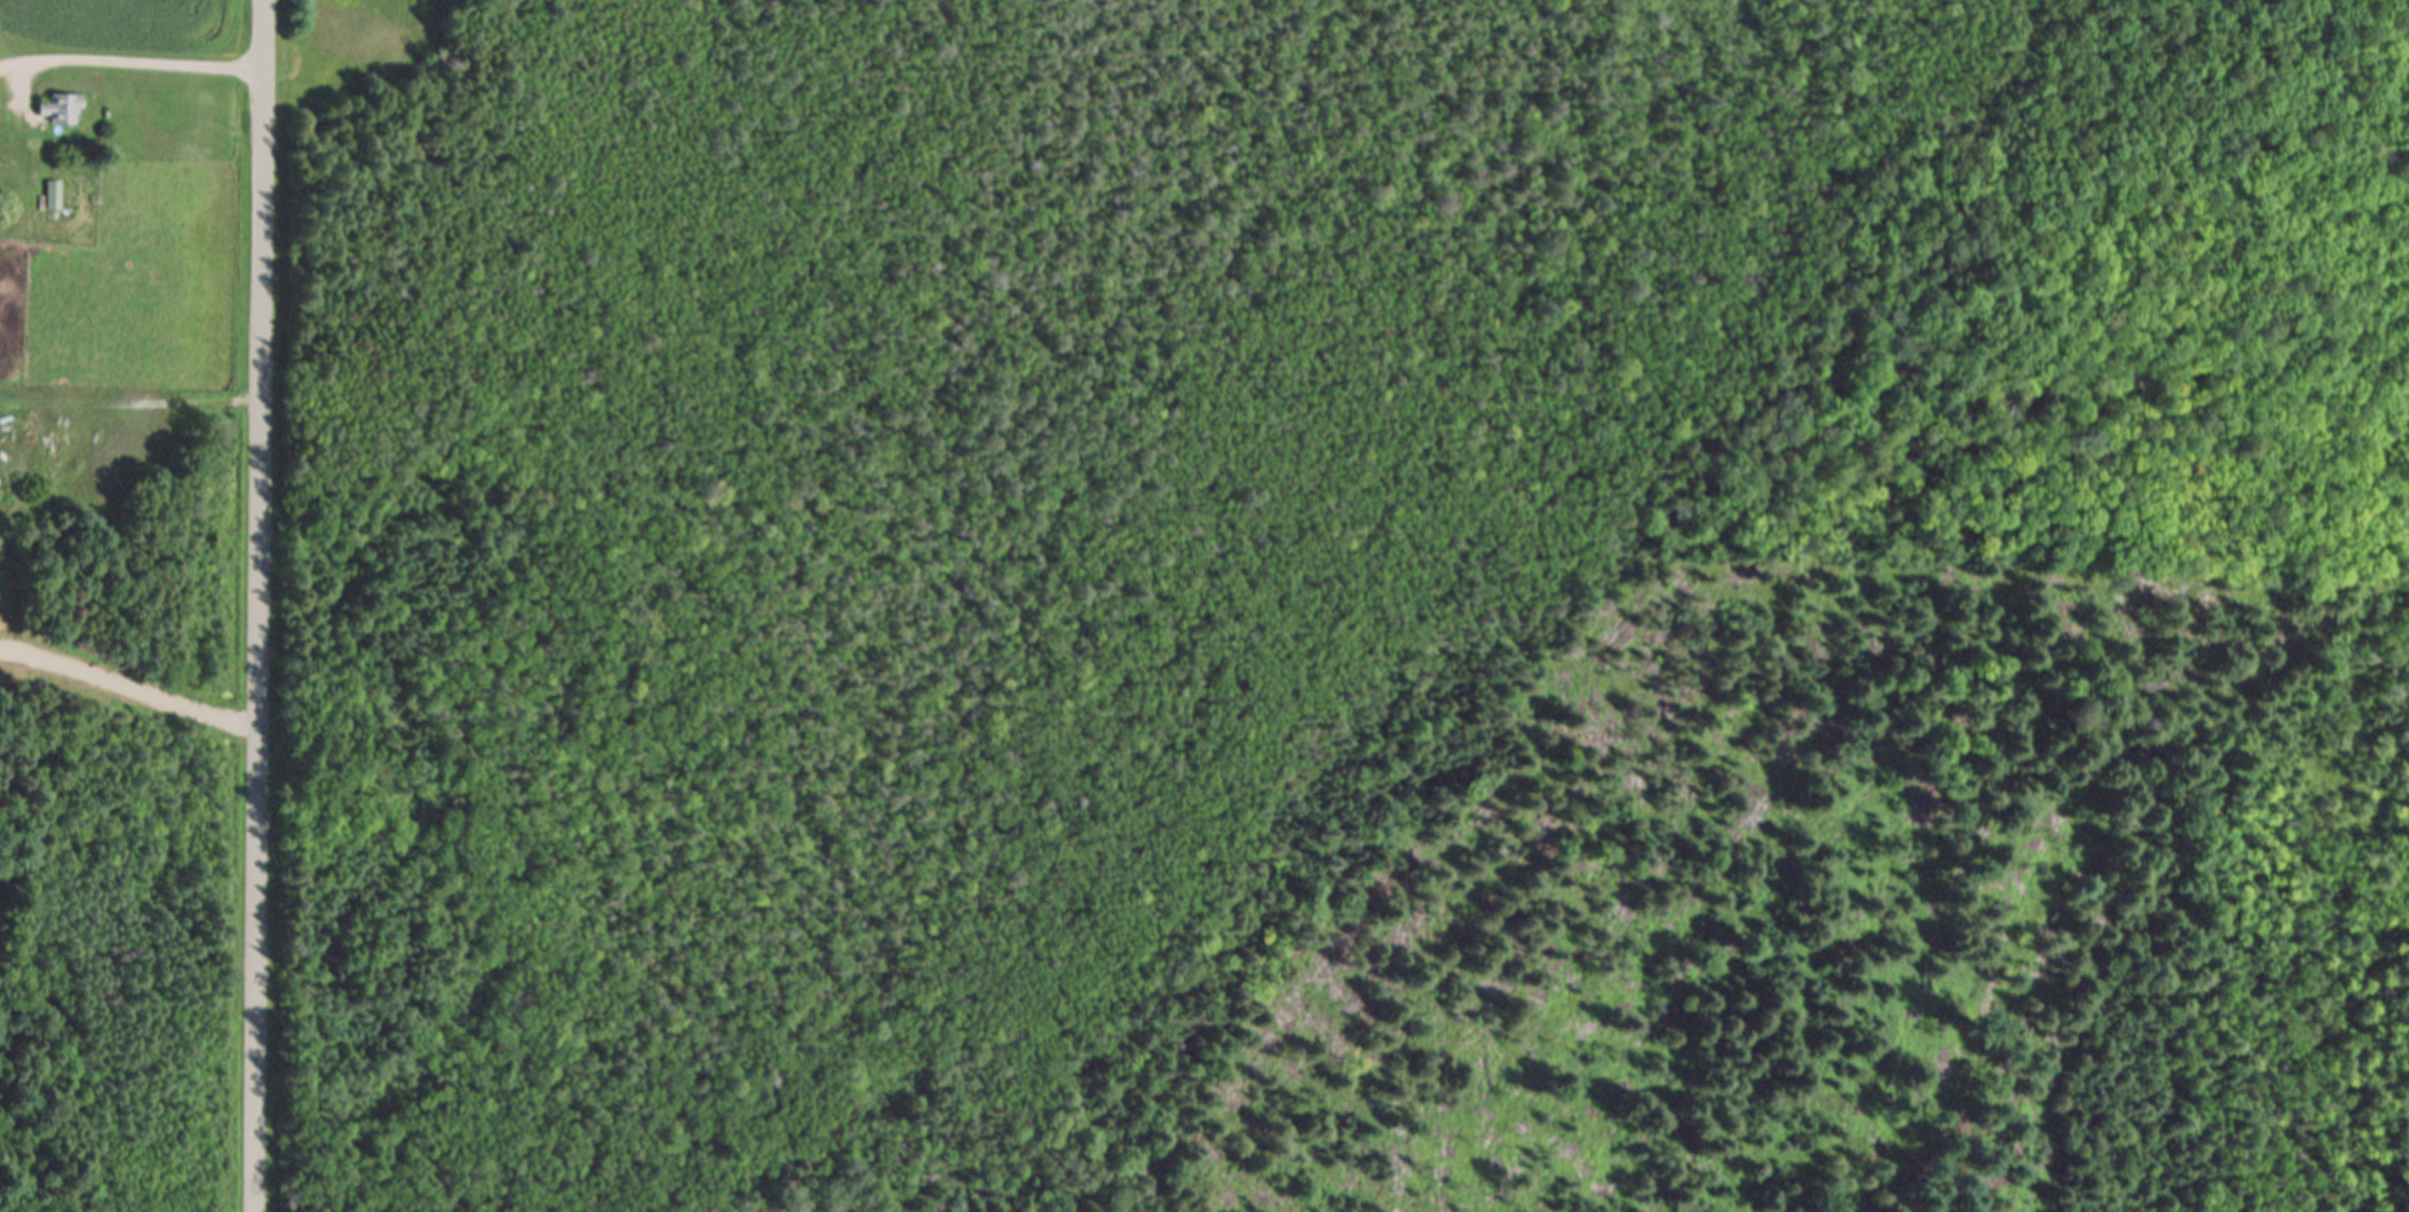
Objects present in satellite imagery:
road: (130, 64)
building: (56, 108)
building: (51, 195)
road: (258, 605)

